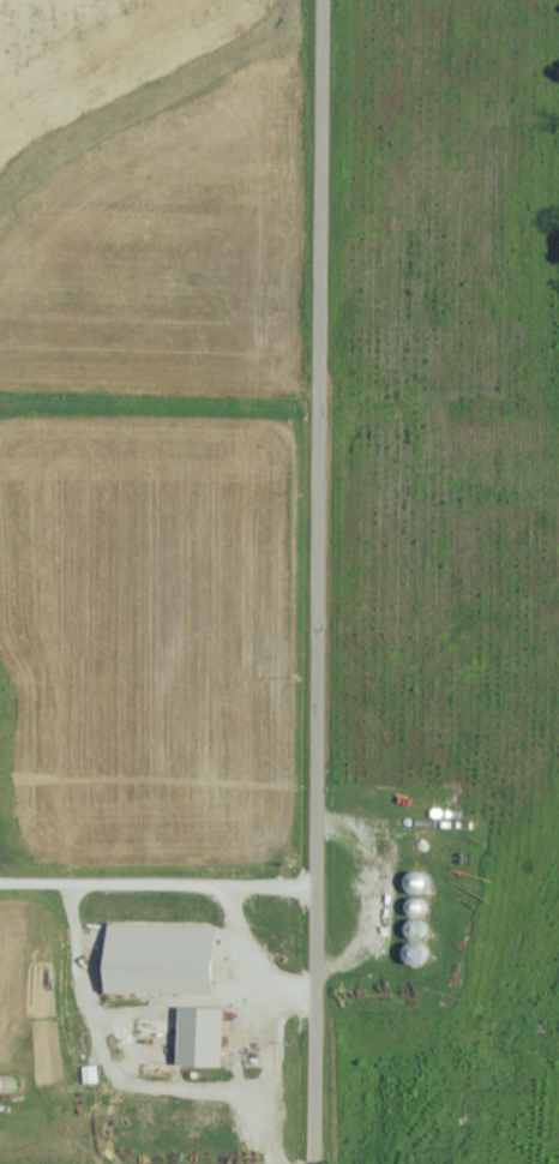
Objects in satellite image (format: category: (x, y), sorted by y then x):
road: (317, 582)
road: (157, 882)
road: (246, 959)
building: (208, 1036)
building: (91, 1073)
road: (271, 1076)

